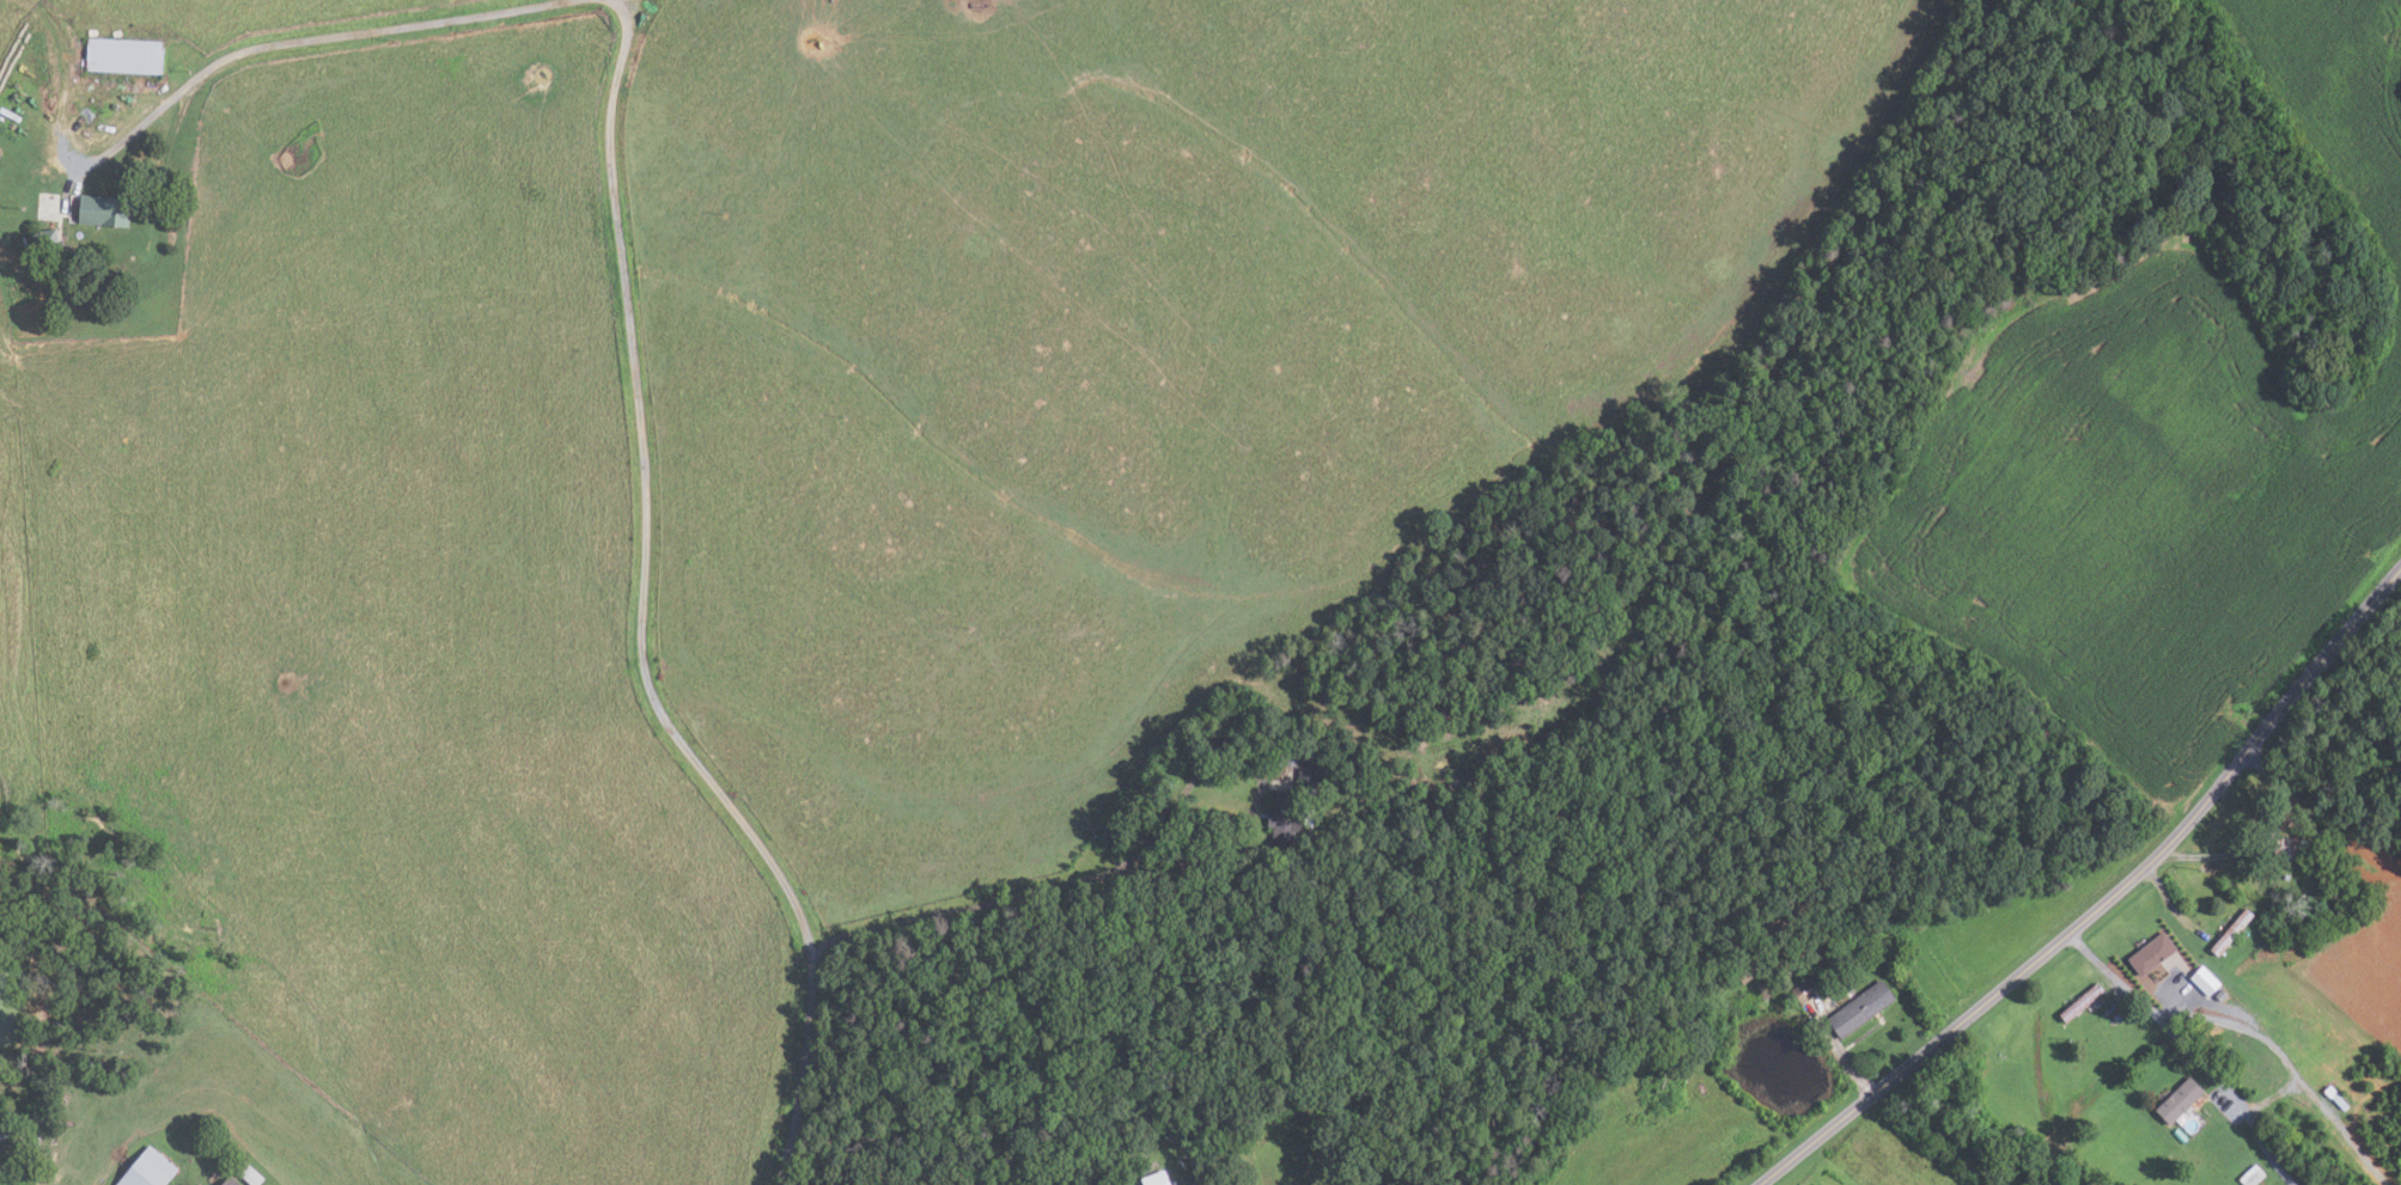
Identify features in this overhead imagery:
road: (282, 43)
building: (126, 56)
building: (105, 210)
building: (45, 239)
crop: (2153, 481)
road: (641, 616)
building: (1293, 798)
building: (2321, 832)
road: (2261, 839)
building: (2286, 847)
building: (2285, 875)
road: (2104, 900)
road: (2170, 904)
building: (2228, 931)
building: (2149, 953)
building: (1744, 970)
building: (2202, 979)
building: (1799, 991)
building: (2218, 995)
building: (2078, 1001)
building: (1857, 1009)
building: (2117, 1015)
road: (2189, 1049)
road: (1844, 1057)
road: (2289, 1065)
road: (2273, 1095)
building: (2332, 1095)
building: (2176, 1100)
building: (206, 1155)
building: (150, 1169)
building: (250, 1173)
building: (2250, 1175)
building: (1158, 1179)
building: (231, 1181)

